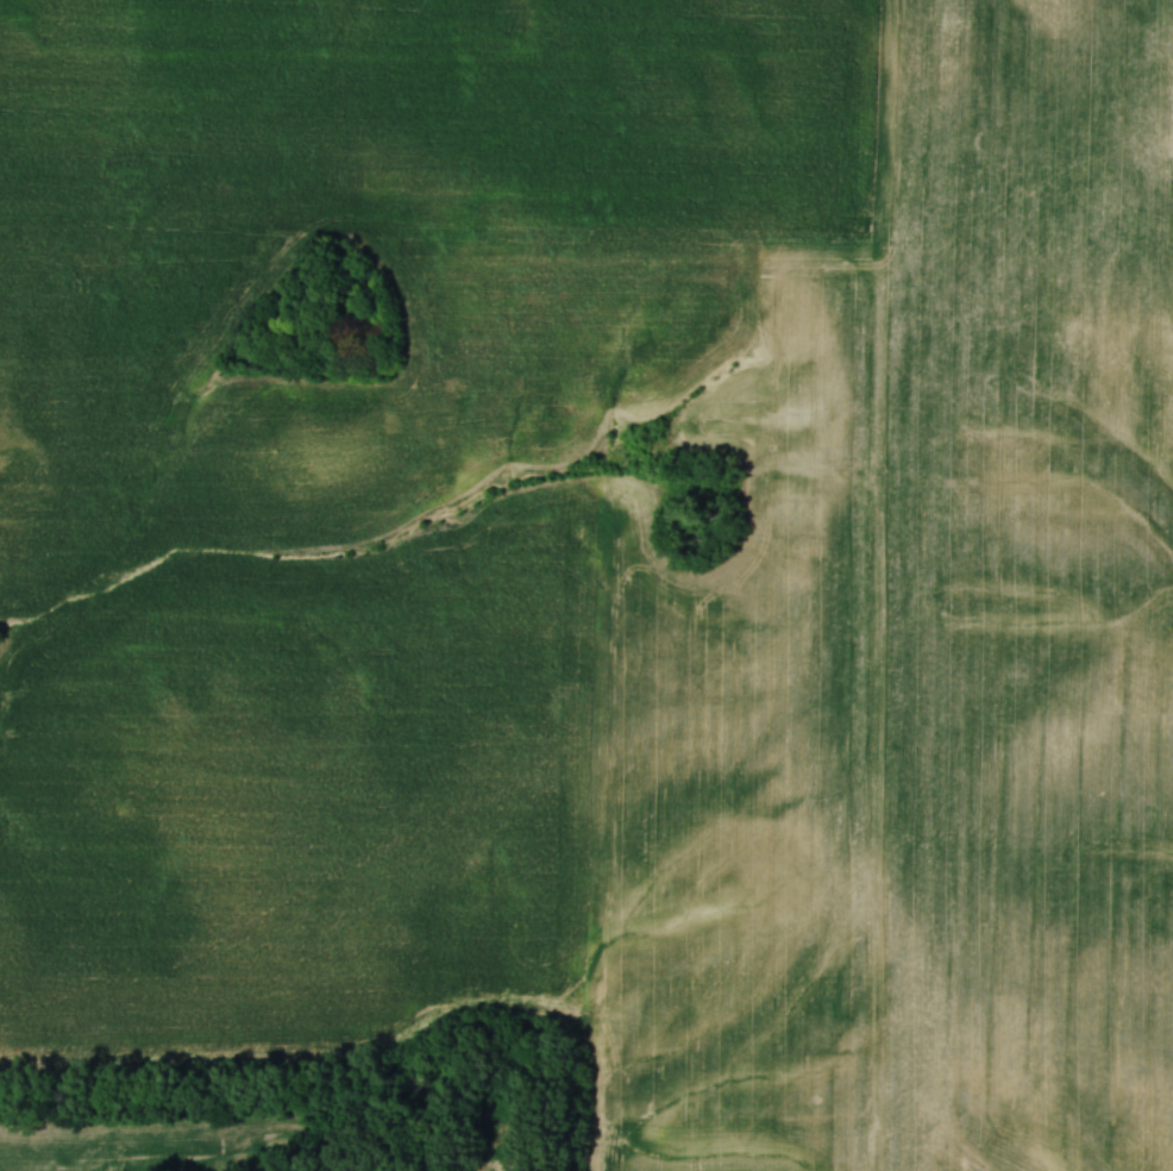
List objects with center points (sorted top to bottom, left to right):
crop: (132, 1141)

